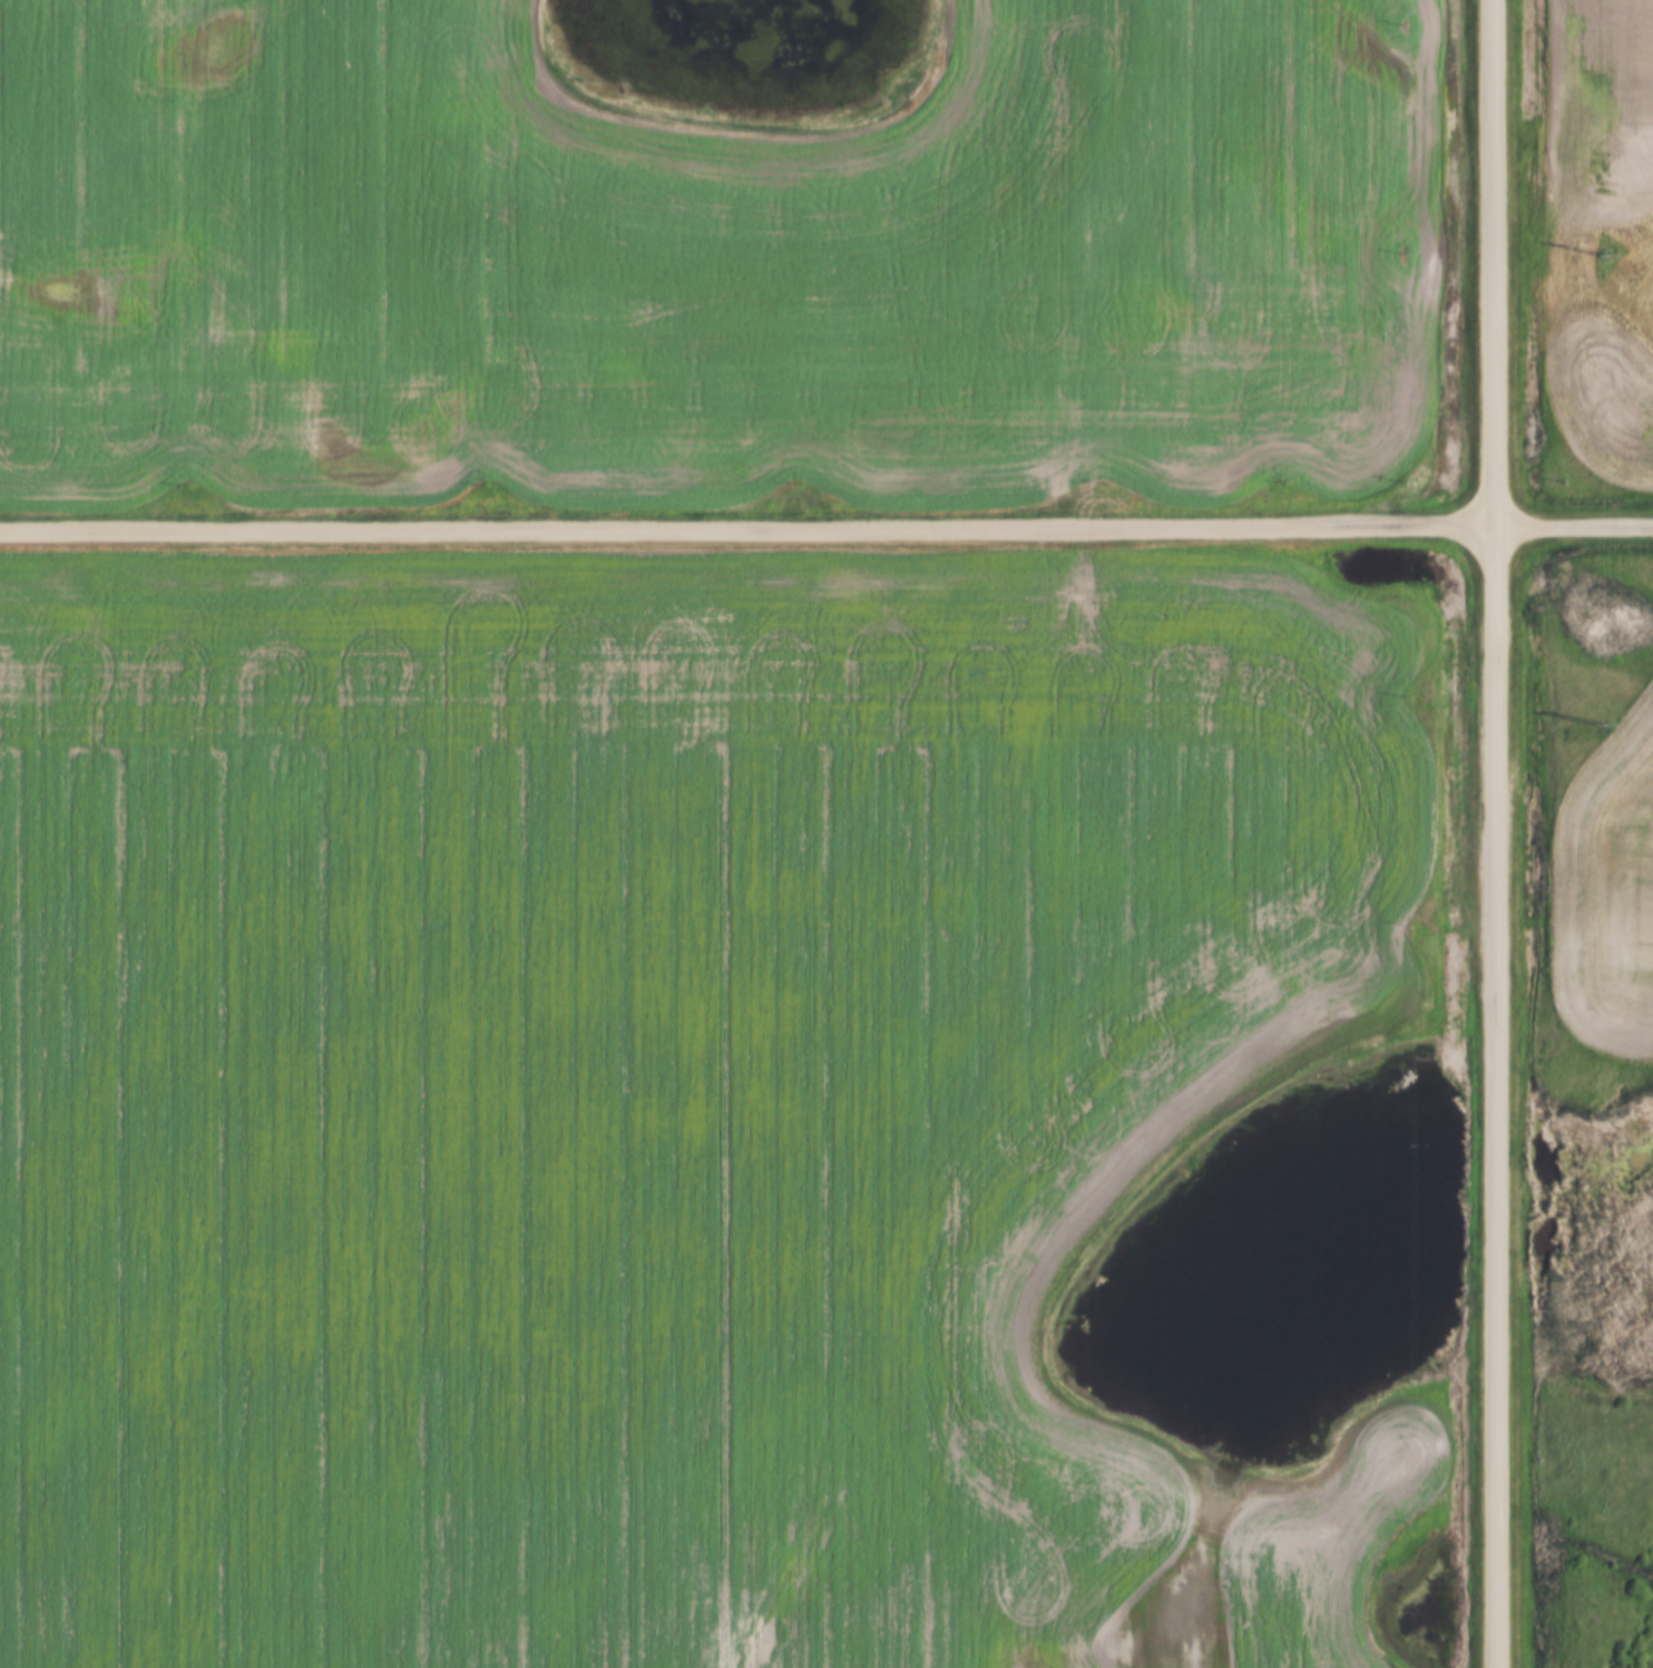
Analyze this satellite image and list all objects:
road: (1574, 526)
road: (747, 531)
road: (1496, 833)

